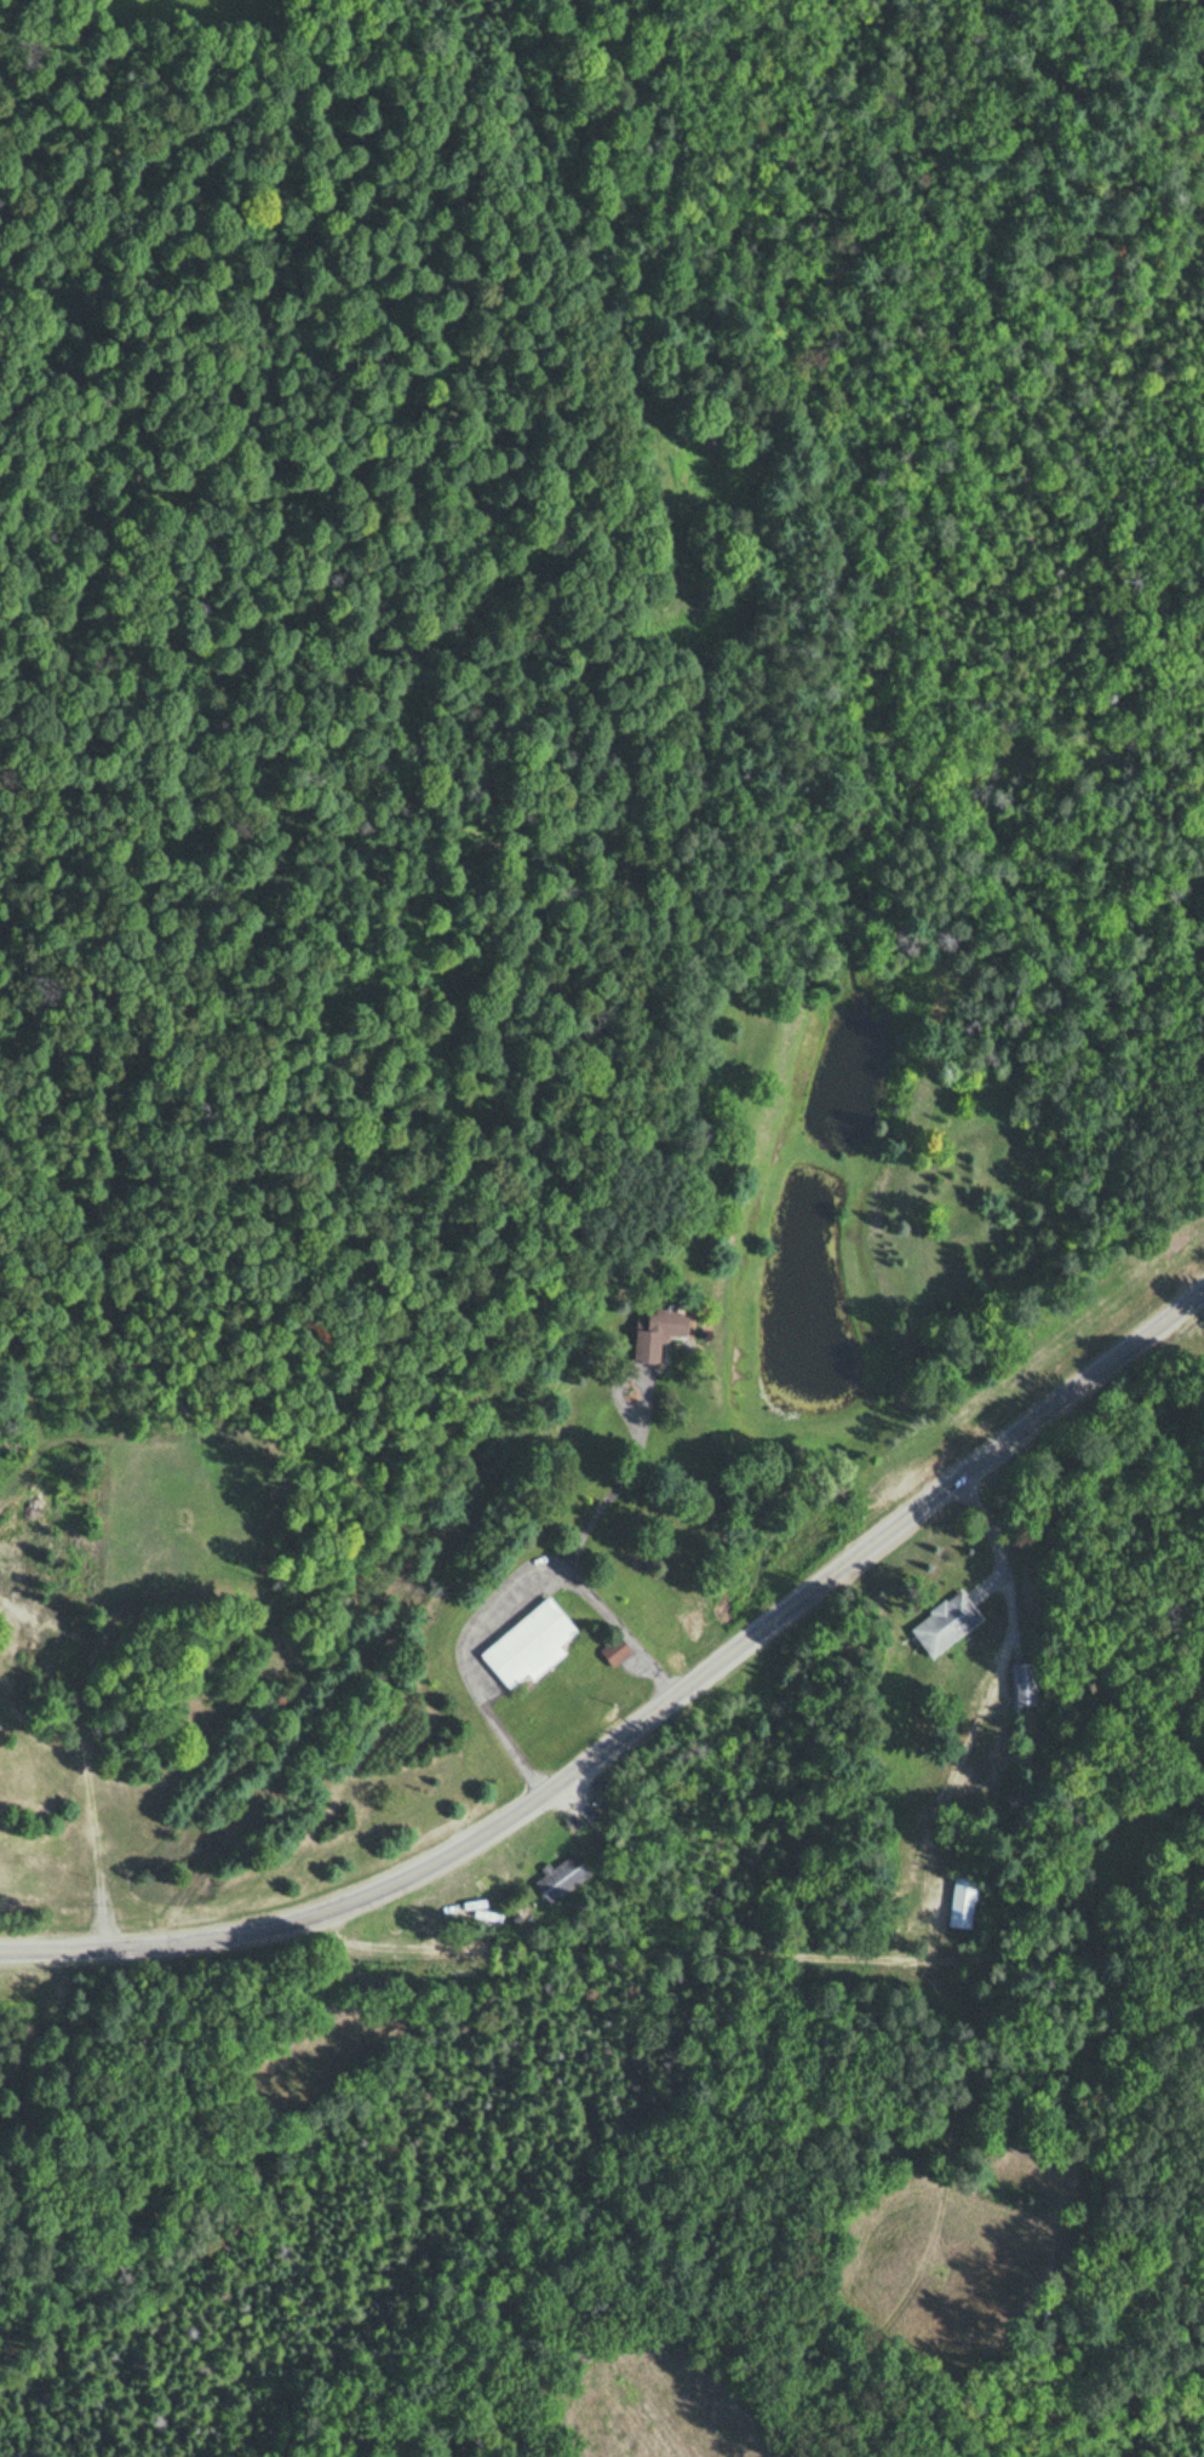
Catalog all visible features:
building: (650, 1333)
road: (618, 1484)
road: (1001, 1537)
building: (944, 1621)
road: (623, 1628)
building: (526, 1642)
building: (610, 1650)
road: (465, 1660)
road: (640, 1663)
building: (1024, 1683)
road: (982, 1713)
road: (642, 1717)
road: (574, 1795)
building: (556, 1874)
building: (962, 1901)
road: (646, 1948)
road: (1099, 1958)

